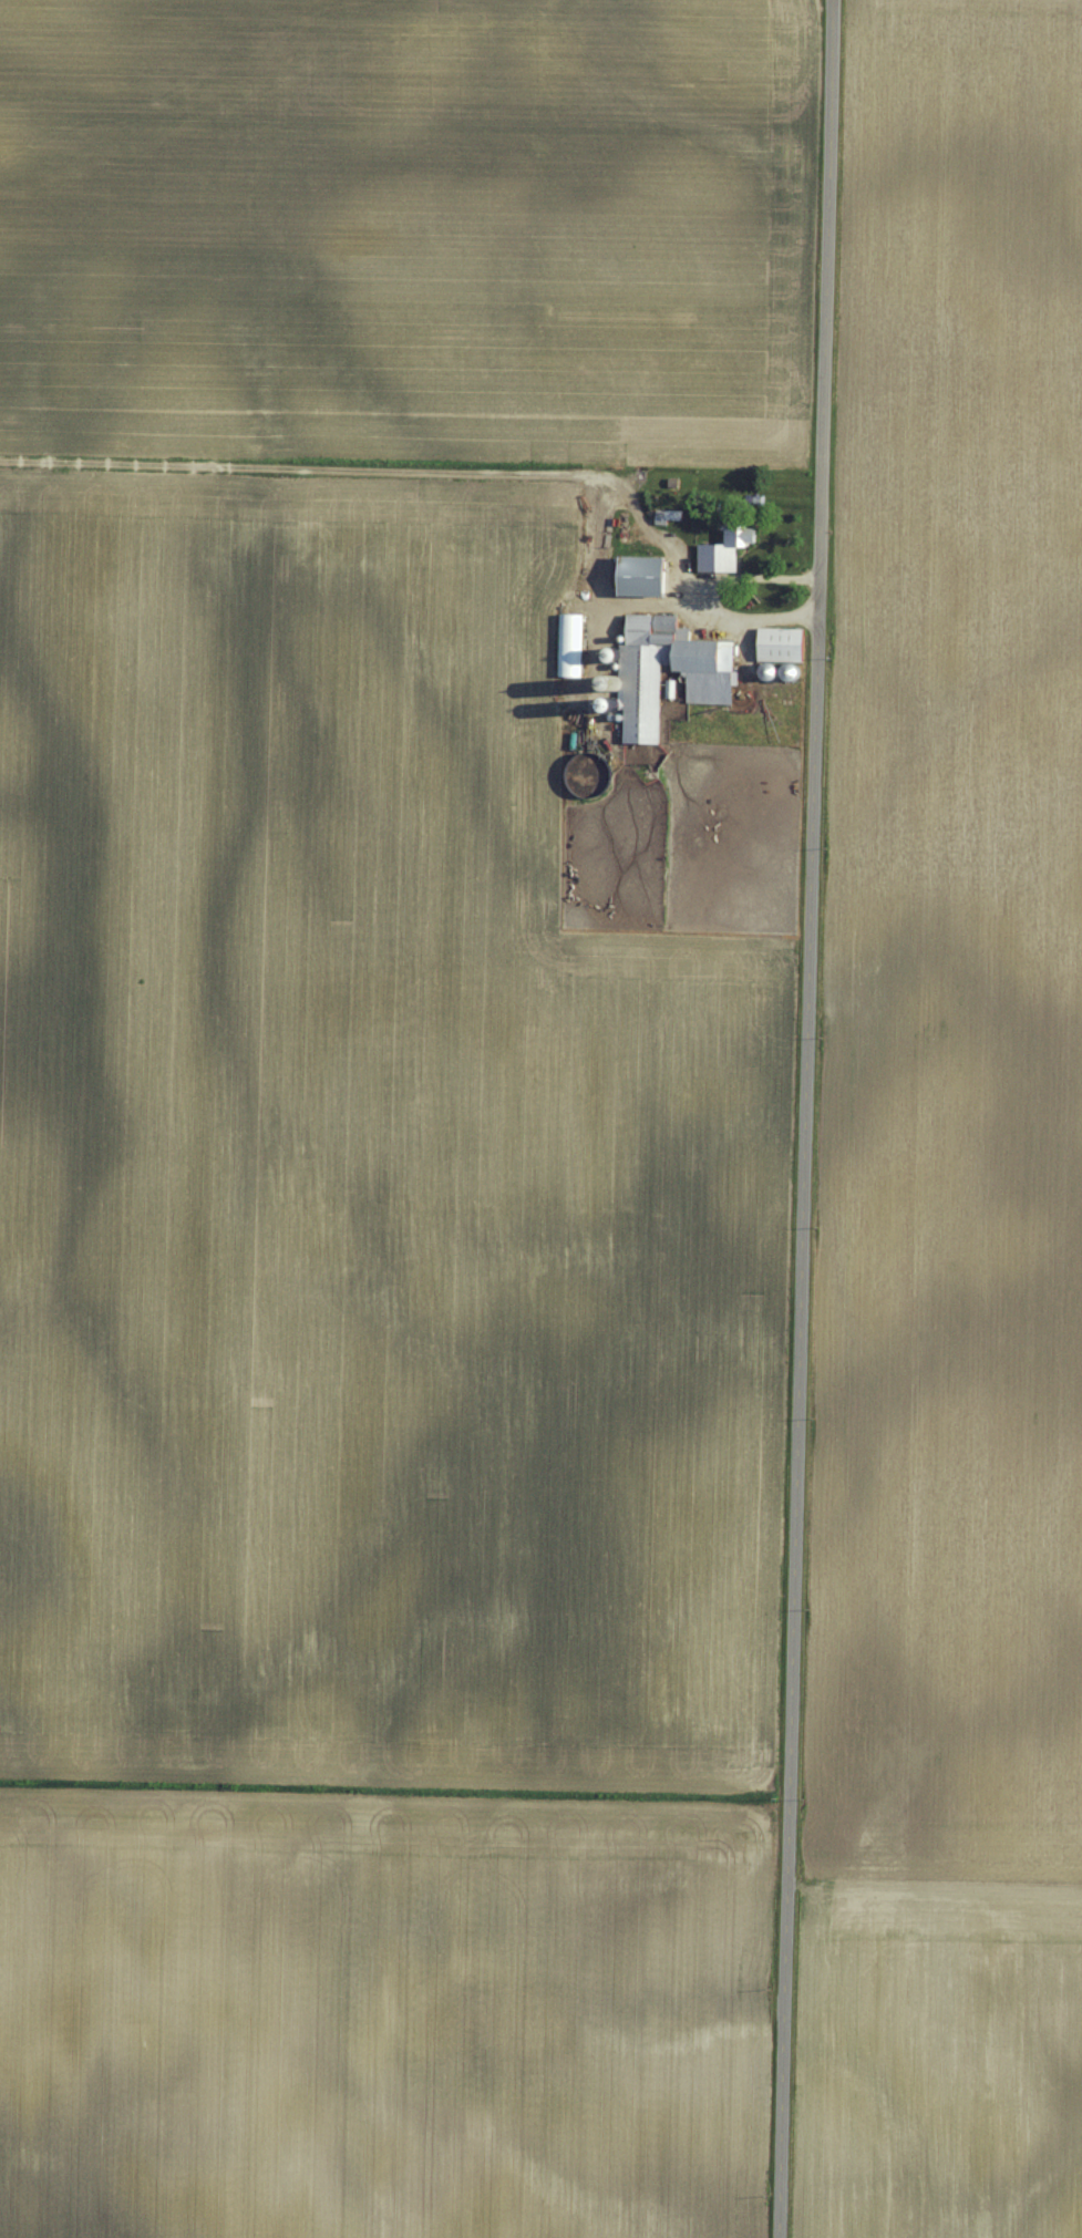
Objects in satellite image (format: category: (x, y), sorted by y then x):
road: (733, 579)
road: (669, 605)
road: (802, 1118)

